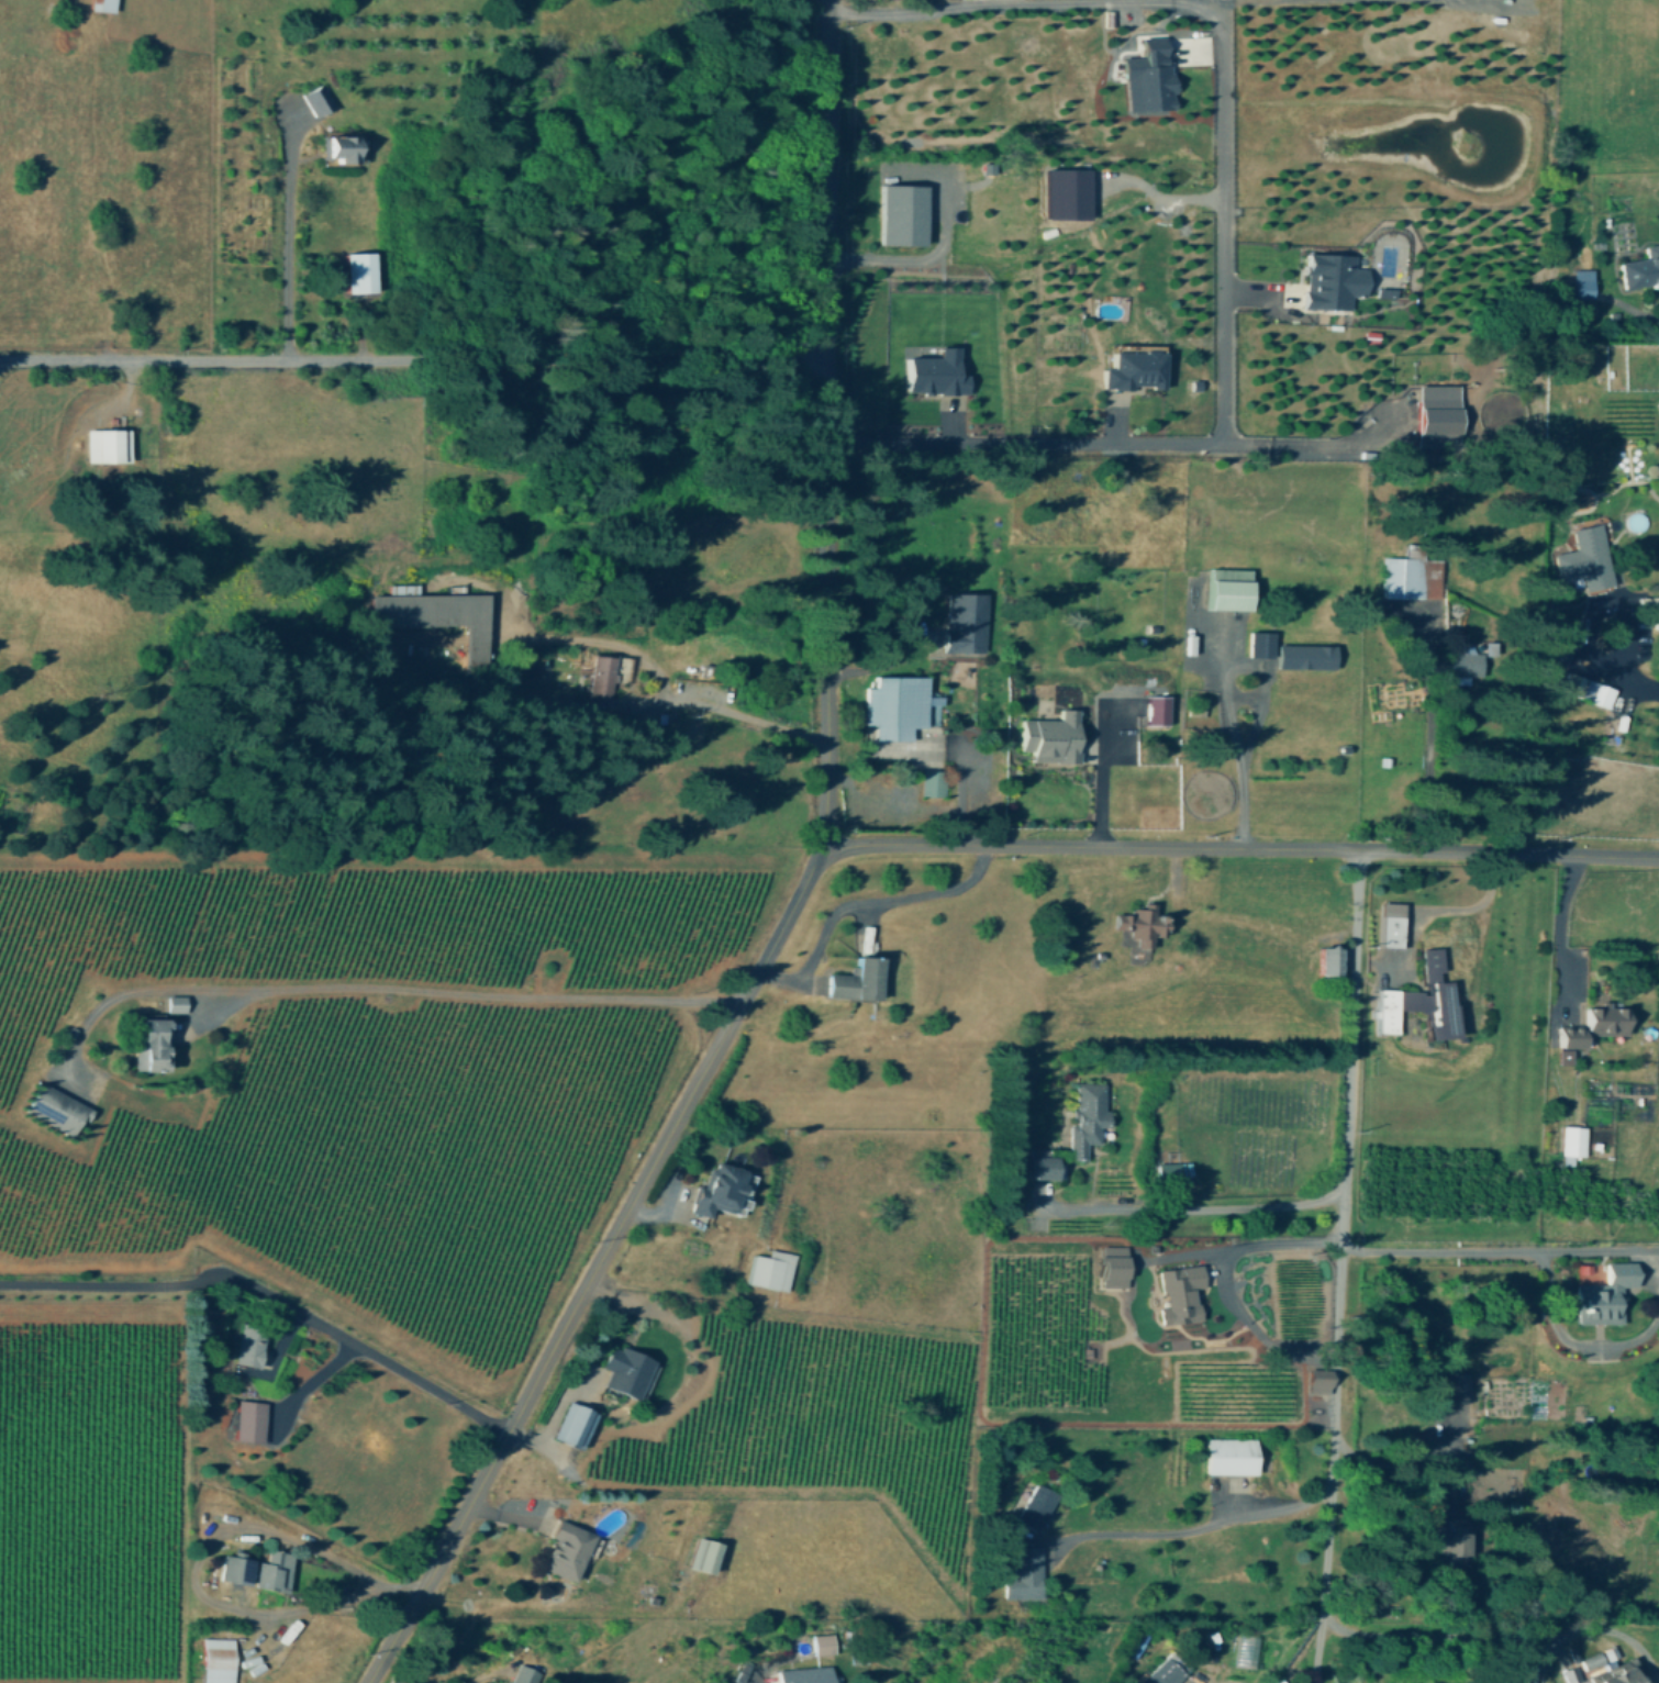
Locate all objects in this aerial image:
building: (104, 4)
building: (1150, 76)
building: (319, 100)
building: (345, 147)
building: (904, 213)
road: (1218, 229)
road: (288, 234)
road: (898, 261)
building: (1643, 268)
building: (361, 271)
building: (1334, 280)
building: (1583, 281)
crop: (87, 313)
road: (412, 360)
building: (1136, 369)
building: (938, 372)
building: (1440, 409)
road: (1290, 442)
building: (109, 444)
building: (1588, 557)
building: (1414, 577)
building: (1232, 588)
building: (437, 614)
building: (967, 622)
road: (1602, 639)
building: (1263, 643)
building: (1492, 647)
building: (1309, 655)
building: (1469, 661)
building: (609, 672)
road: (661, 680)
building: (1590, 688)
building: (901, 705)
building: (1159, 709)
building: (1054, 736)
road: (1429, 770)
road: (1243, 778)
building: (934, 781)
road: (1093, 785)
road: (1239, 847)
road: (799, 893)
road: (861, 902)
building: (1145, 923)
building: (1393, 923)
road: (1561, 927)
building: (1333, 958)
building: (858, 978)
road: (470, 995)
building: (1424, 999)
building: (177, 1002)
building: (153, 1044)
building: (58, 1107)
building: (1090, 1116)
building: (1572, 1141)
building: (1045, 1166)
building: (1172, 1170)
building: (724, 1189)
road: (1199, 1212)
road: (1608, 1244)
road: (1441, 1245)
building: (1115, 1264)
road: (1340, 1266)
building: (772, 1268)
road: (1227, 1281)
building: (1181, 1292)
building: (1607, 1293)
road: (269, 1296)
road: (1571, 1335)
building: (250, 1344)
building: (627, 1369)
road: (310, 1378)
building: (1322, 1379)
building: (252, 1419)
building: (576, 1423)
building: (1232, 1454)
road: (1406, 1458)
building: (1038, 1505)
road: (1196, 1527)
building: (1450, 1541)
building: (569, 1548)
building: (706, 1553)
building: (237, 1567)
building: (276, 1569)
building: (1023, 1570)
road: (193, 1585)
road: (557, 1608)
road: (1449, 1634)
building: (825, 1642)
building: (1593, 1658)
building: (220, 1660)
building: (1524, 1671)
building: (1163, 1672)
building: (525, 1673)
building: (809, 1673)
building: (1626, 1673)
building: (1572, 1674)
road: (477, 1680)

